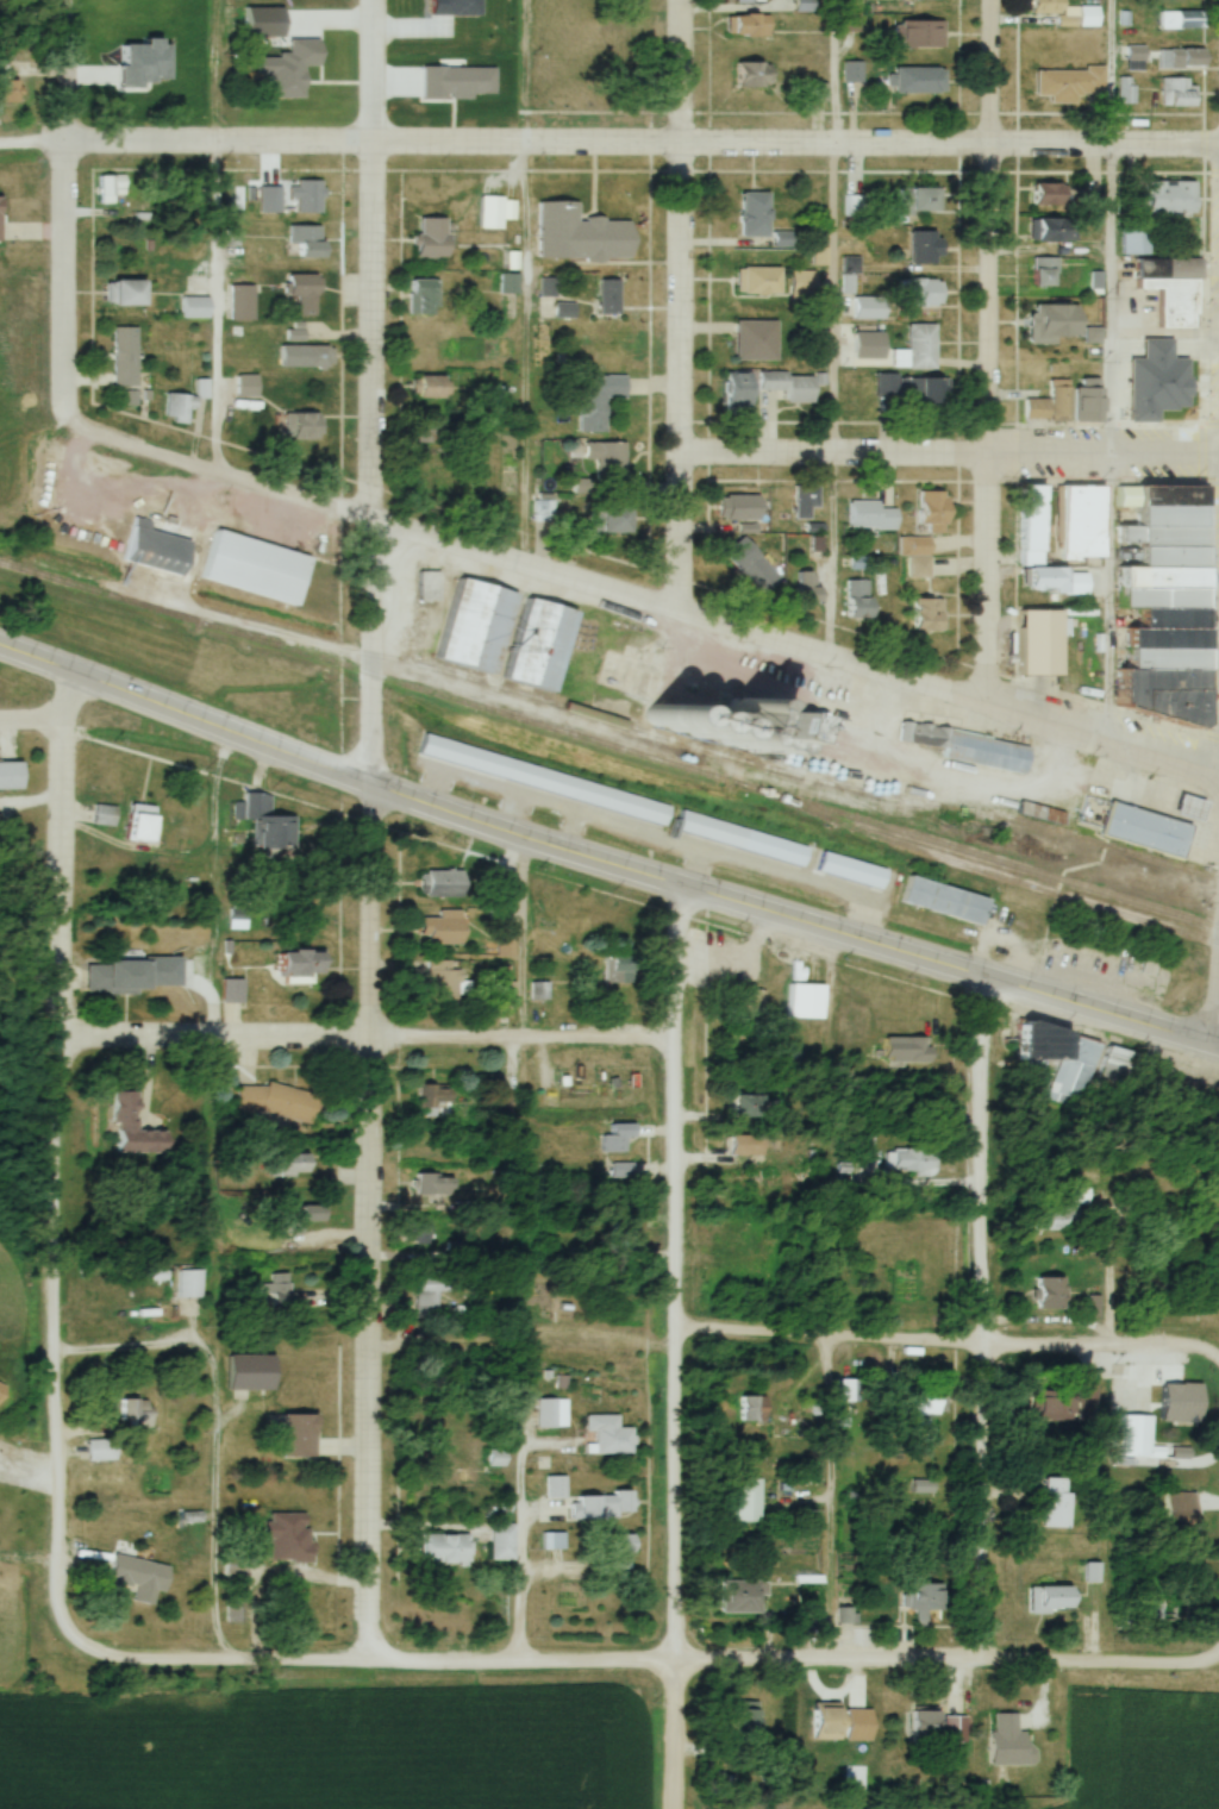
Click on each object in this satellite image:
building: (748, 0)
building: (1069, 13)
building: (1180, 20)
building: (743, 24)
building: (921, 35)
building: (1181, 60)
building: (752, 75)
building: (918, 81)
building: (1070, 82)
building: (7, 86)
building: (1180, 93)
road: (639, 143)
road: (30, 146)
building: (112, 189)
building: (1048, 194)
building: (311, 198)
building: (1169, 199)
building: (271, 200)
building: (923, 202)
building: (496, 212)
building: (754, 215)
road: (65, 227)
building: (1055, 230)
road: (214, 234)
building: (580, 234)
building: (430, 238)
building: (1136, 239)
building: (308, 242)
building: (924, 249)
building: (1045, 271)
building: (759, 281)
building: (808, 281)
building: (549, 289)
building: (1171, 290)
building: (124, 293)
building: (305, 293)
building: (920, 294)
building: (424, 298)
building: (243, 300)
road: (671, 305)
building: (195, 308)
building: (869, 308)
building: (565, 313)
building: (1055, 323)
road: (833, 326)
building: (296, 333)
building: (757, 340)
building: (1095, 340)
building: (919, 349)
road: (989, 350)
building: (1186, 350)
road: (523, 353)
building: (315, 357)
building: (126, 358)
road: (1107, 367)
building: (249, 386)
building: (790, 386)
building: (430, 387)
road: (374, 390)
building: (738, 390)
building: (913, 390)
building: (489, 399)
building: (598, 400)
building: (1088, 401)
building: (1175, 403)
building: (1051, 405)
building: (181, 408)
building: (304, 426)
road: (944, 457)
building: (605, 458)
road: (223, 470)
building: (806, 501)
building: (743, 508)
building: (546, 509)
building: (933, 512)
building: (871, 517)
building: (611, 518)
building: (1082, 524)
building: (1030, 525)
building: (155, 550)
building: (918, 556)
building: (260, 564)
building: (750, 568)
building: (1063, 582)
building: (806, 589)
building: (858, 600)
building: (1159, 603)
building: (927, 616)
building: (474, 621)
building: (542, 640)
road: (795, 644)
building: (1040, 644)
road: (40, 661)
road: (71, 696)
road: (31, 718)
building: (970, 747)
road: (452, 763)
building: (10, 776)
building: (588, 793)
road: (32, 803)
building: (1040, 814)
traffic signals: (482, 816)
building: (139, 826)
building: (269, 826)
building: (1145, 832)
building: (743, 835)
road: (640, 868)
road: (525, 869)
building: (851, 869)
building: (443, 884)
building: (945, 897)
building: (443, 931)
road: (524, 938)
building: (299, 966)
building: (617, 970)
building: (115, 978)
building: (443, 982)
building: (233, 991)
building: (807, 1002)
building: (754, 1004)
road: (1211, 1008)
road: (364, 1041)
building: (909, 1051)
road: (1211, 1052)
building: (1062, 1059)
building: (1129, 1071)
building: (279, 1102)
building: (436, 1102)
building: (746, 1106)
building: (137, 1129)
building: (619, 1138)
building: (745, 1145)
building: (914, 1163)
road: (57, 1164)
building: (288, 1165)
building: (436, 1185)
building: (1059, 1214)
building: (304, 1220)
road: (373, 1223)
building: (419, 1232)
building: (620, 1238)
building: (189, 1285)
building: (277, 1294)
building: (1049, 1295)
building: (431, 1296)
road: (979, 1322)
road: (457, 1332)
road: (667, 1340)
road: (127, 1346)
road: (945, 1347)
building: (250, 1373)
building: (848, 1391)
building: (1095, 1402)
building: (918, 1403)
building: (1054, 1406)
building: (750, 1409)
building: (137, 1413)
building: (552, 1414)
building: (1137, 1435)
building: (298, 1436)
building: (606, 1436)
building: (104, 1451)
road: (25, 1472)
building: (104, 1472)
road: (519, 1482)
building: (745, 1501)
road: (830, 1503)
building: (1057, 1504)
building: (604, 1507)
building: (925, 1507)
building: (1182, 1508)
building: (295, 1534)
road: (215, 1535)
building: (504, 1542)
building: (442, 1550)
building: (613, 1553)
road: (29, 1556)
building: (137, 1577)
building: (740, 1597)
building: (1050, 1601)
building: (923, 1603)
building: (815, 1616)
road: (213, 1623)
road: (1211, 1660)
road: (617, 1665)
building: (745, 1722)
building: (925, 1726)
building: (957, 1732)
building: (1008, 1744)
road: (675, 1805)

